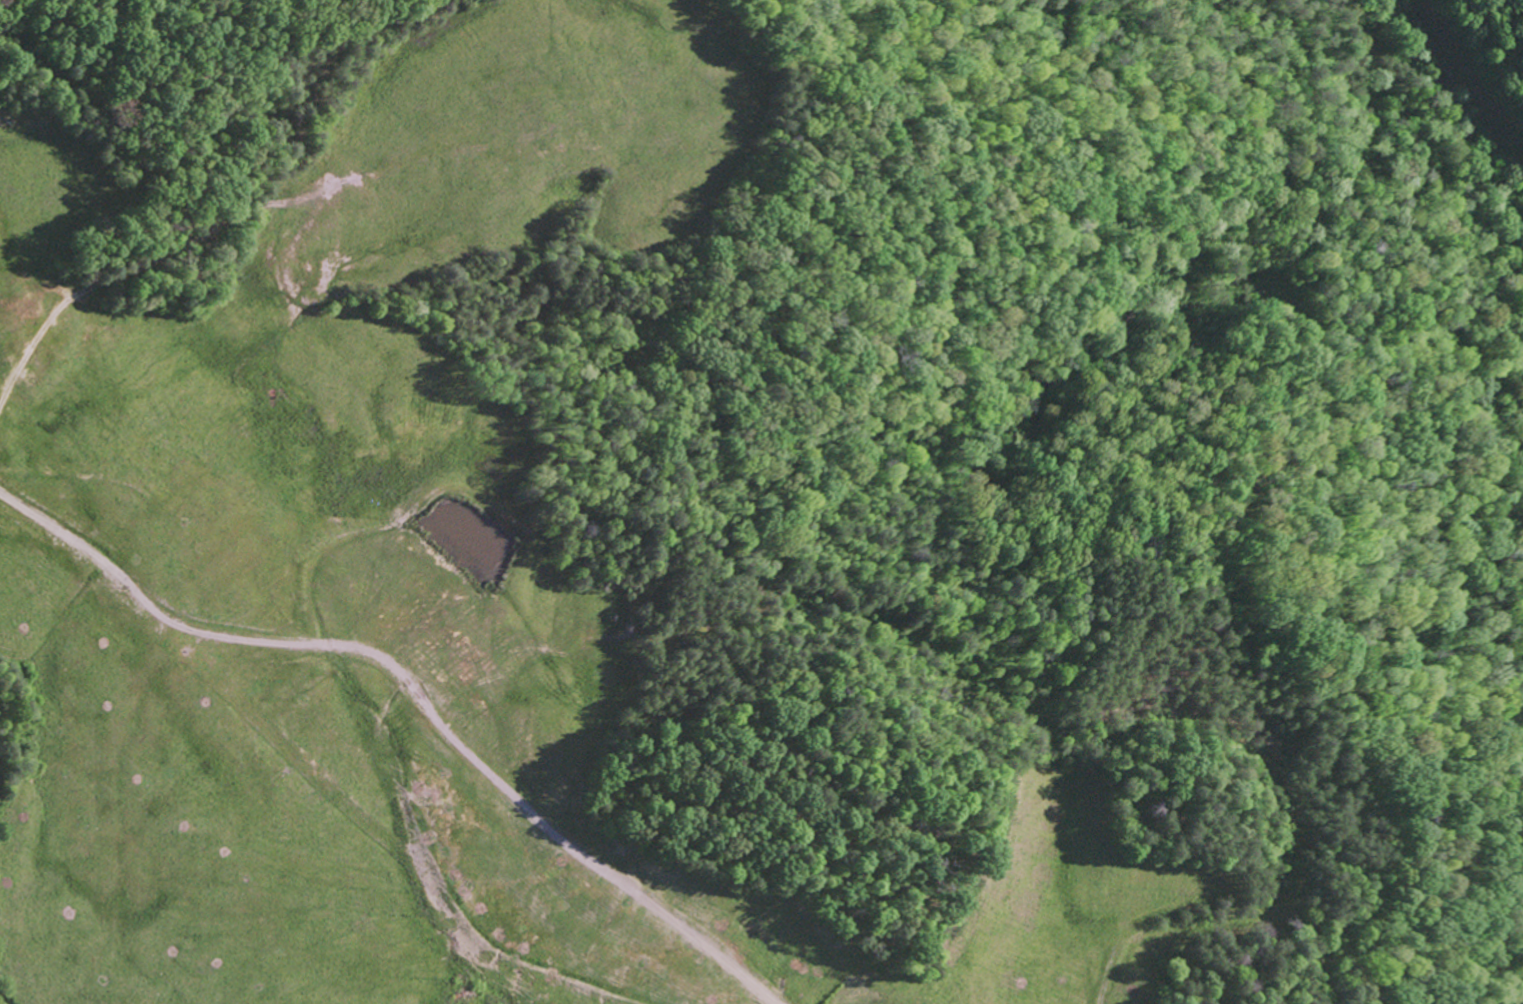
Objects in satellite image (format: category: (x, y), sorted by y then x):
road: (1490, 61)
road: (416, 689)
road: (1104, 803)

